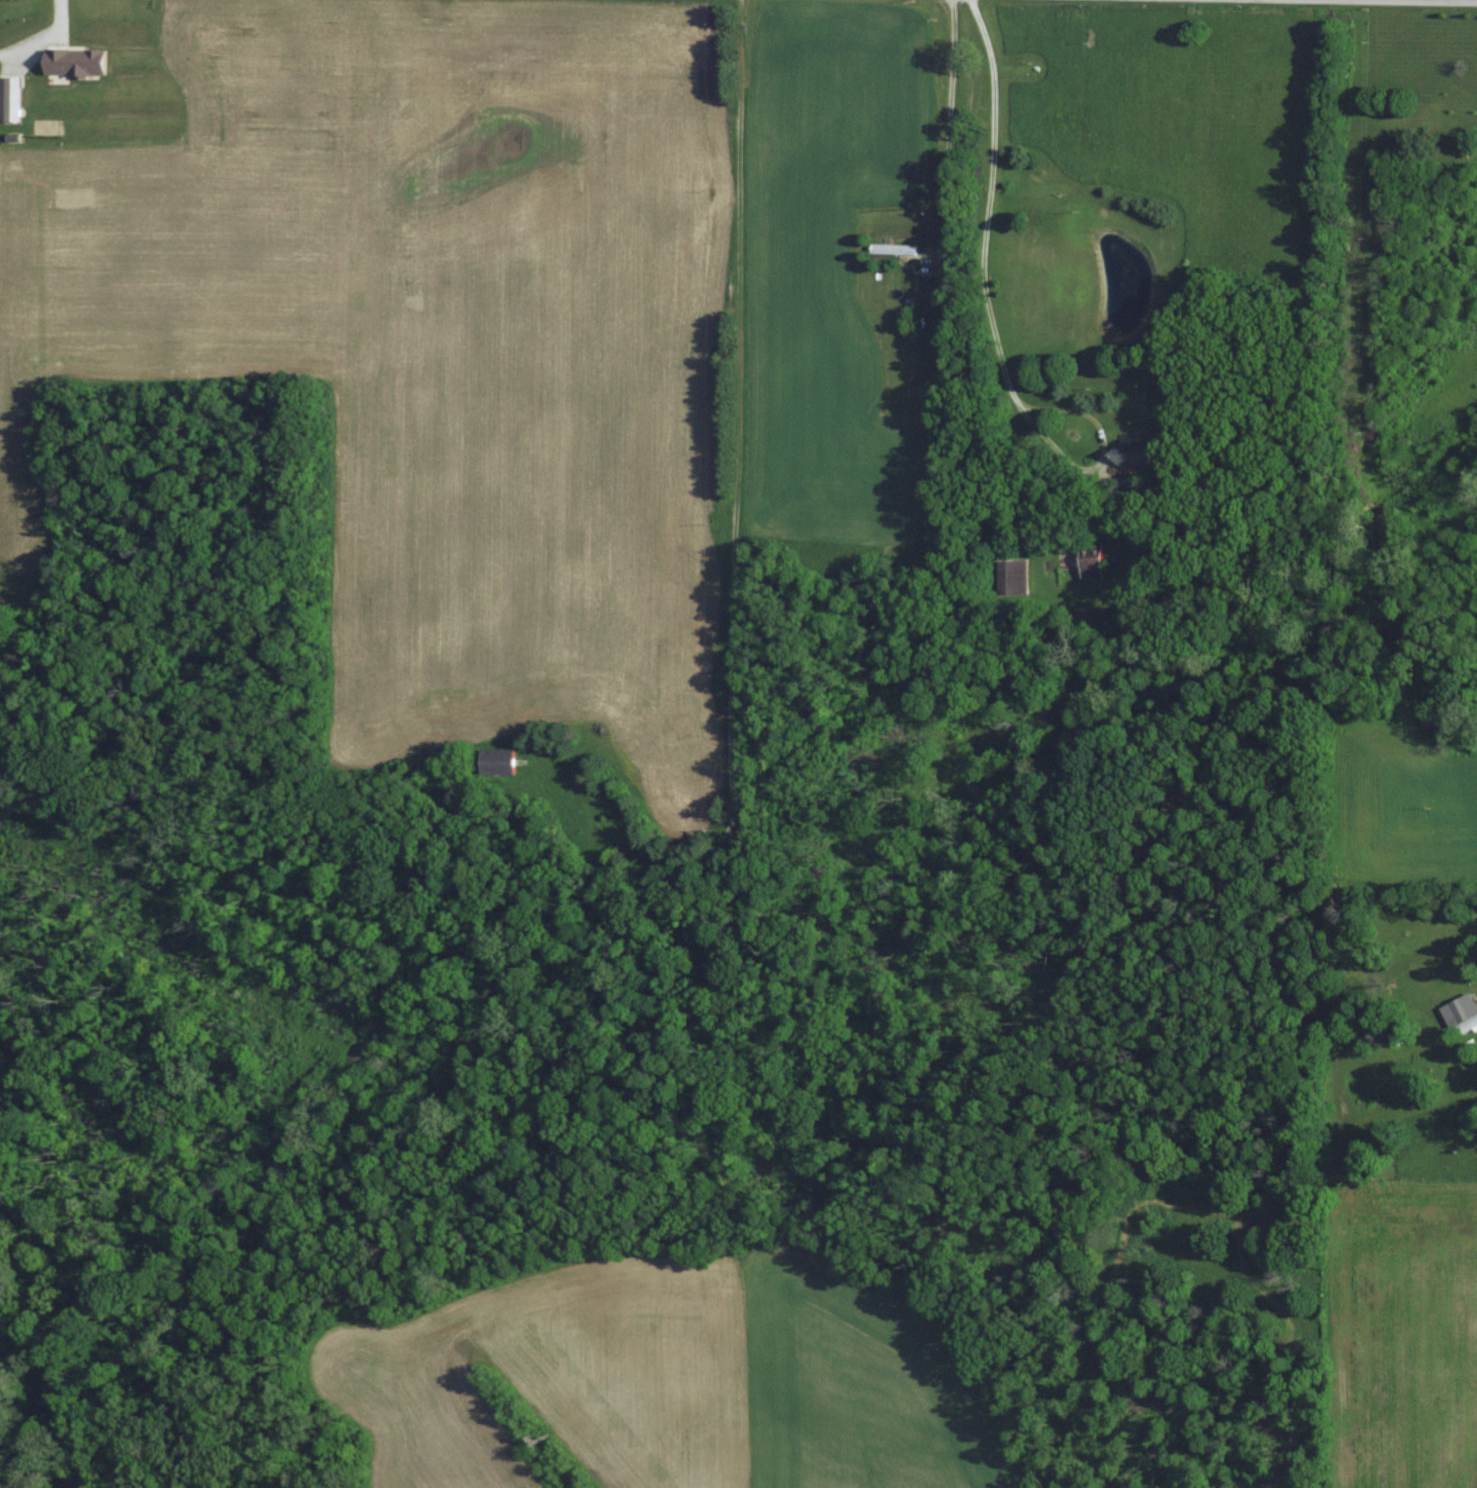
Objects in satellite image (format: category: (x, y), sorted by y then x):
road: (946, 129)
road: (988, 204)
building: (895, 249)
road: (1100, 453)
building: (1135, 453)
building: (504, 760)
building: (627, 825)

